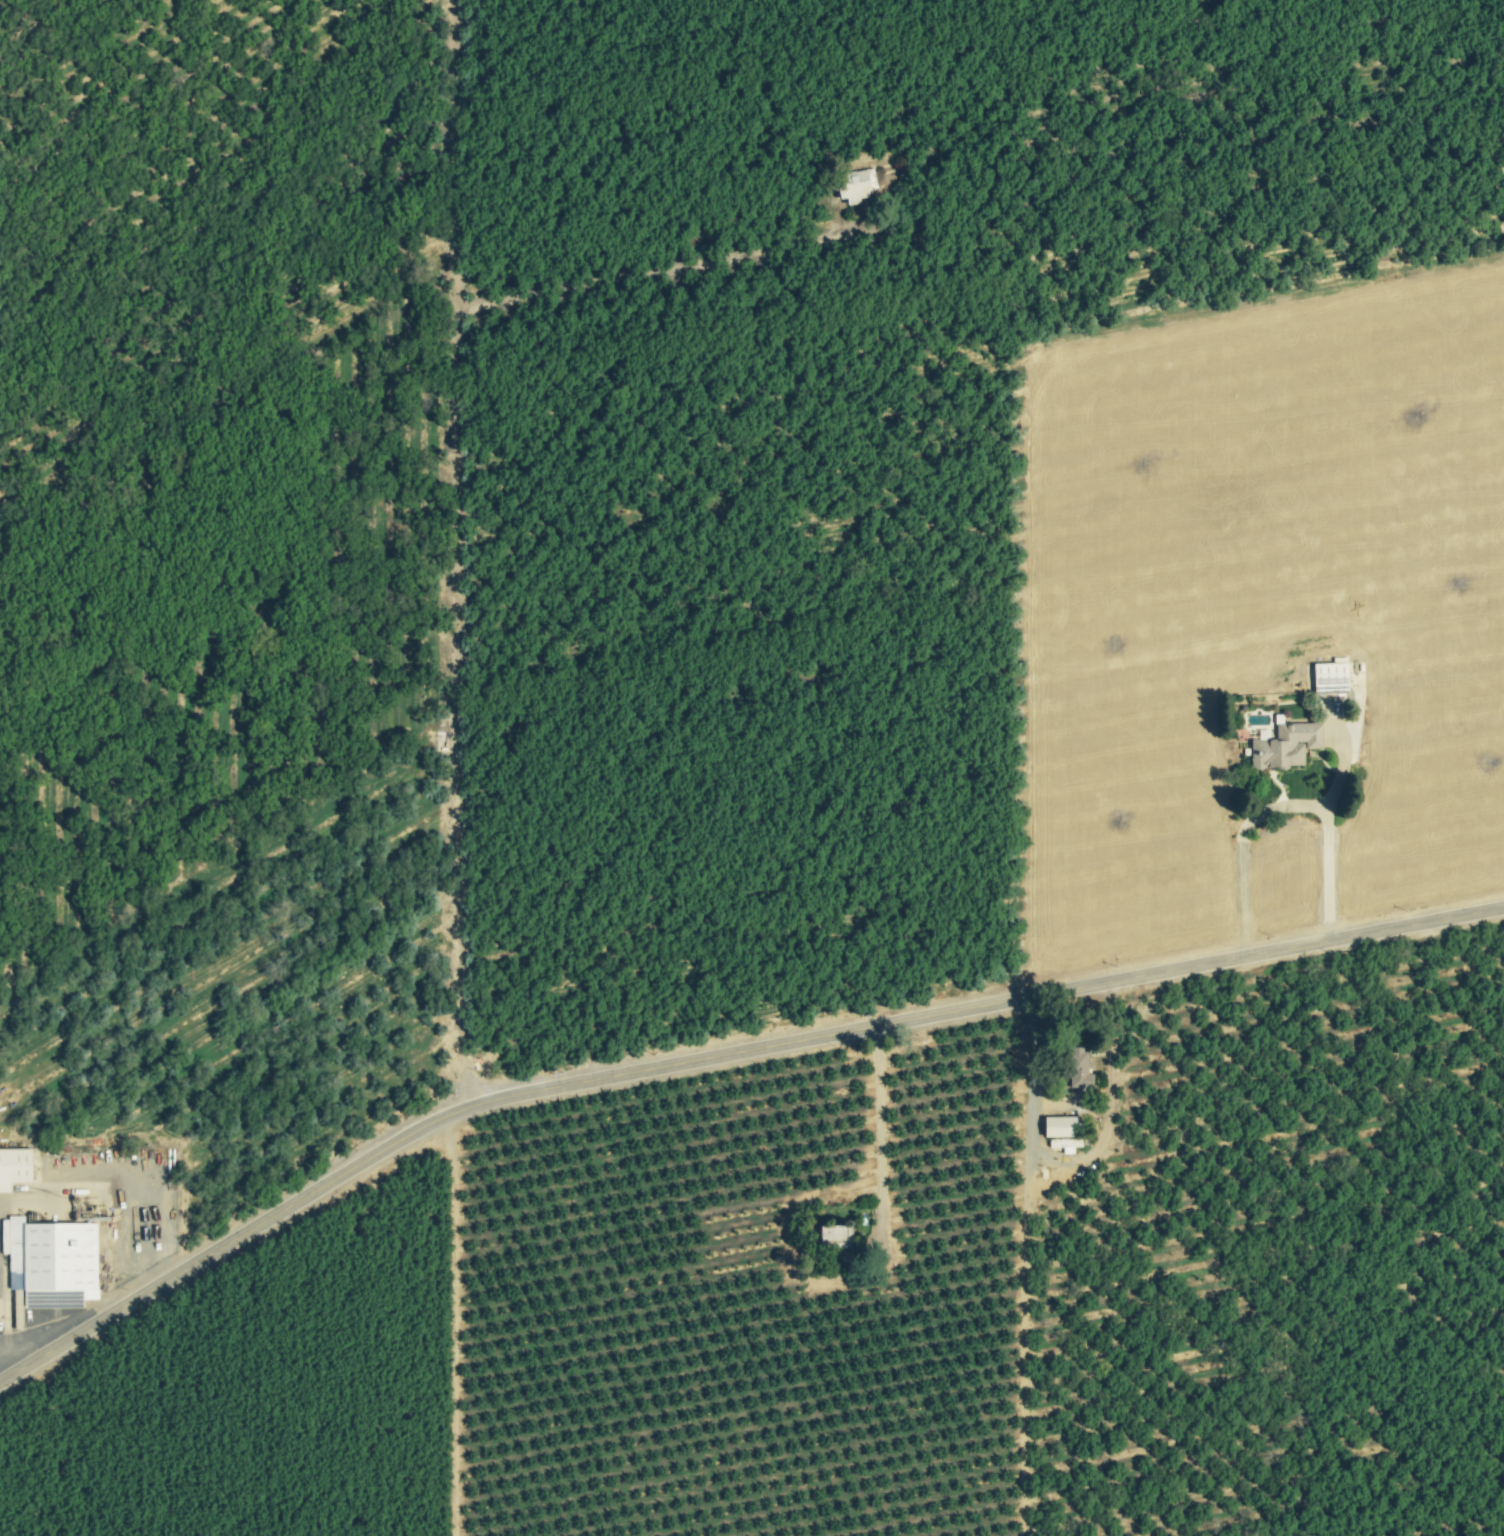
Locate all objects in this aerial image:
building: (858, 185)
road: (669, 269)
building: (1326, 678)
building: (1280, 746)
road: (460, 770)
road: (1281, 809)
road: (718, 1056)
building: (1073, 1069)
building: (1053, 1127)
road: (881, 1138)
road: (1077, 1156)
building: (16, 1168)
building: (52, 1264)

